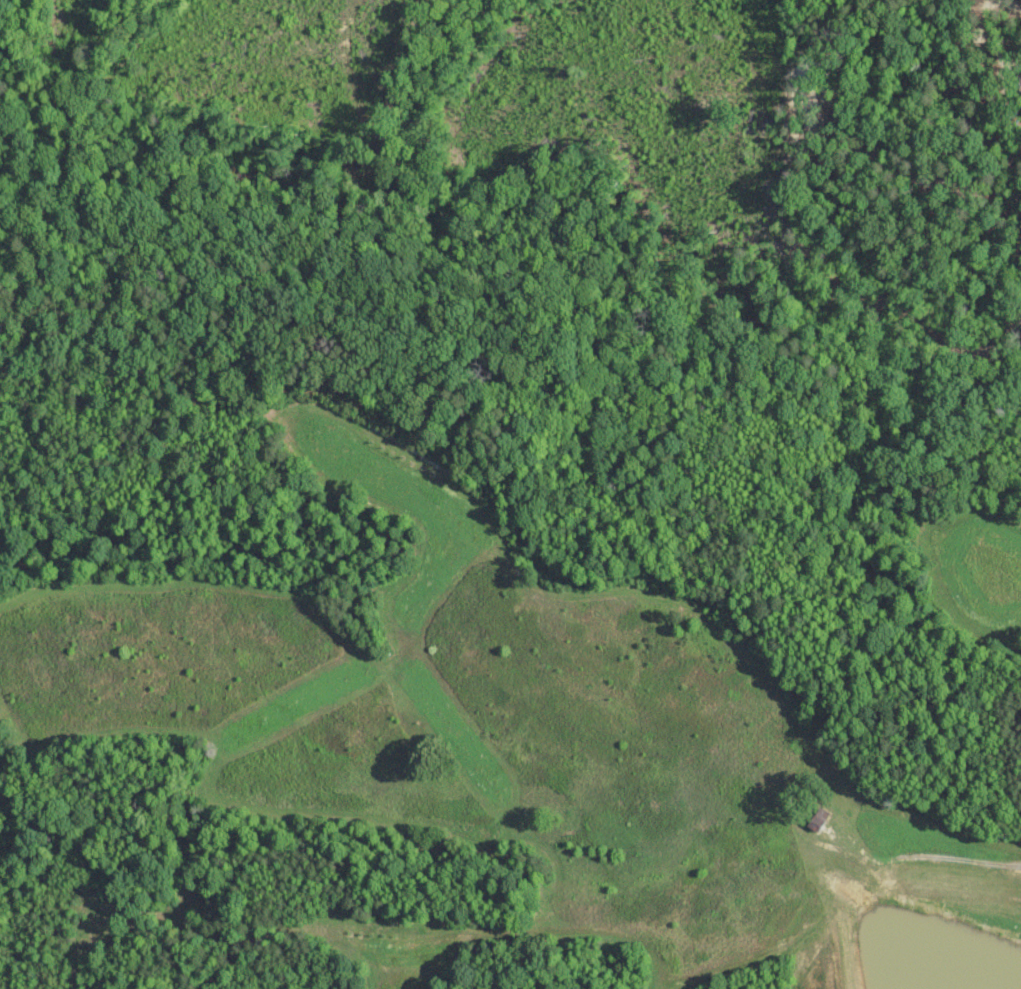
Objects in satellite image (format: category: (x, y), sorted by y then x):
road: (959, 858)

